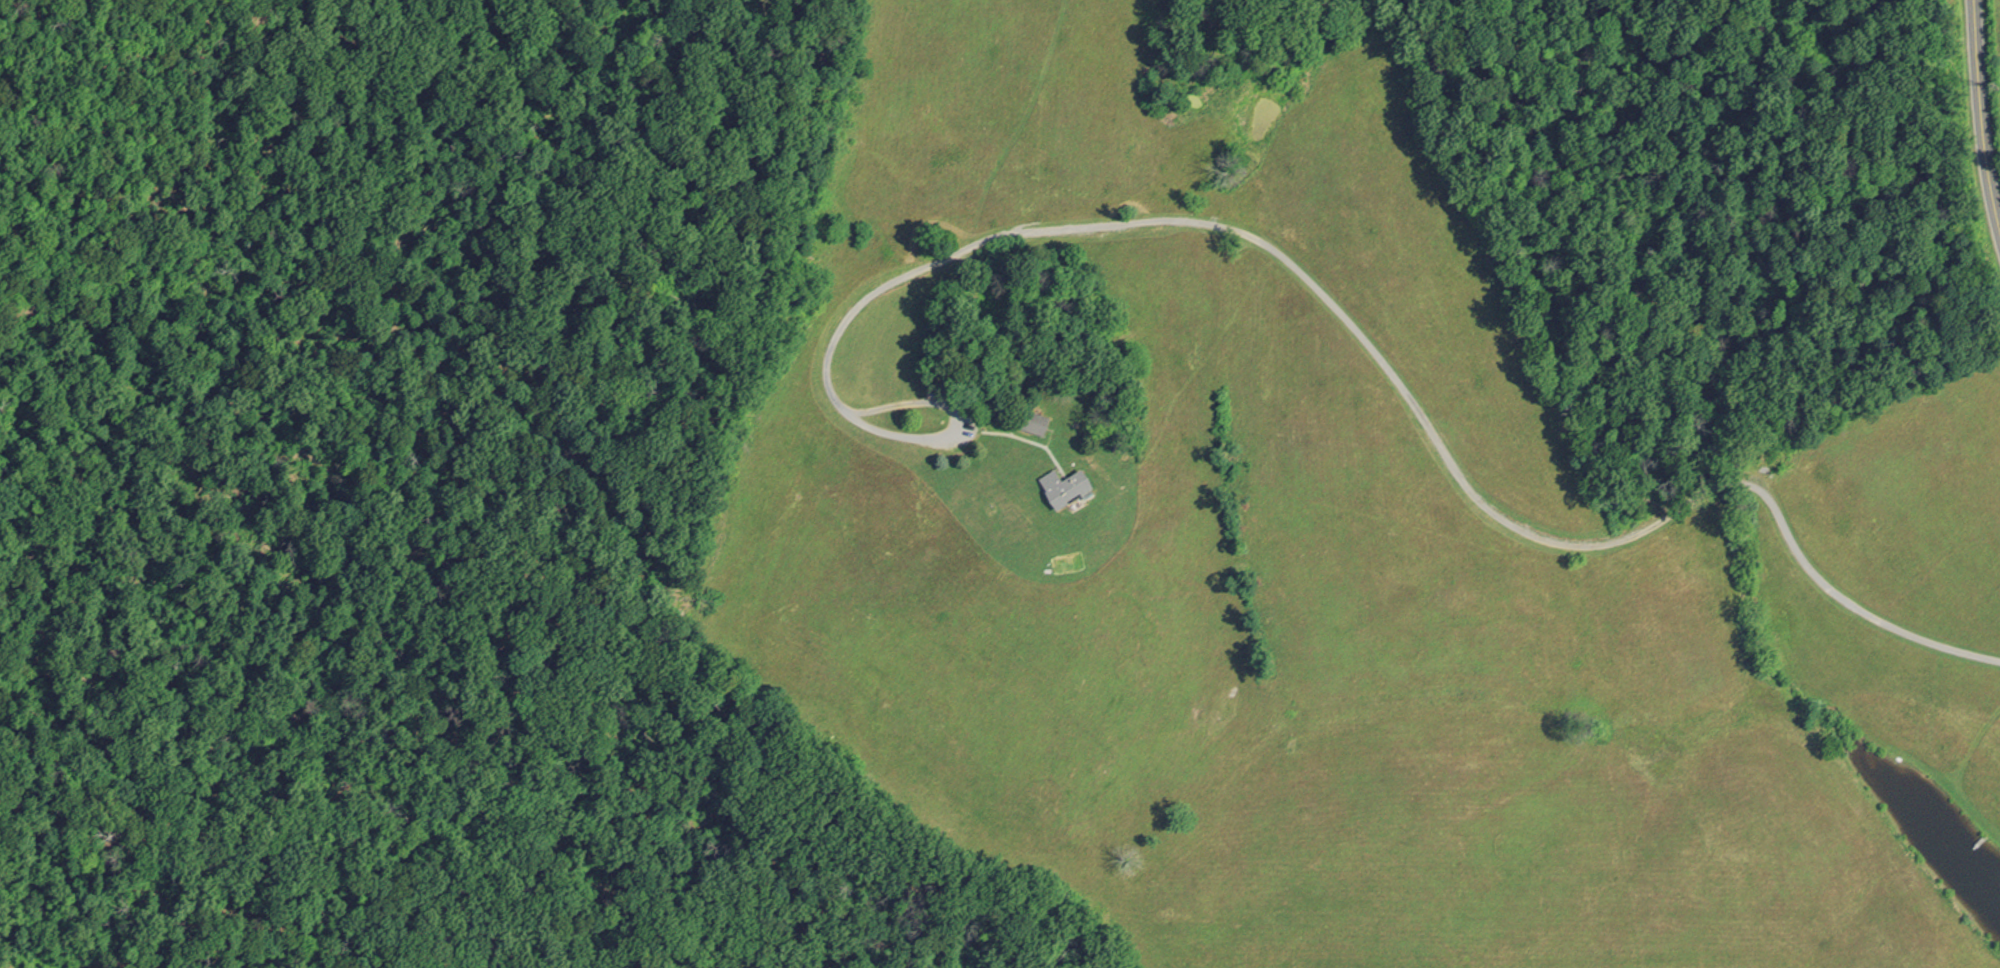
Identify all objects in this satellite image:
road: (1979, 126)
road: (1401, 377)
building: (1041, 423)
road: (953, 424)
building: (1074, 488)

